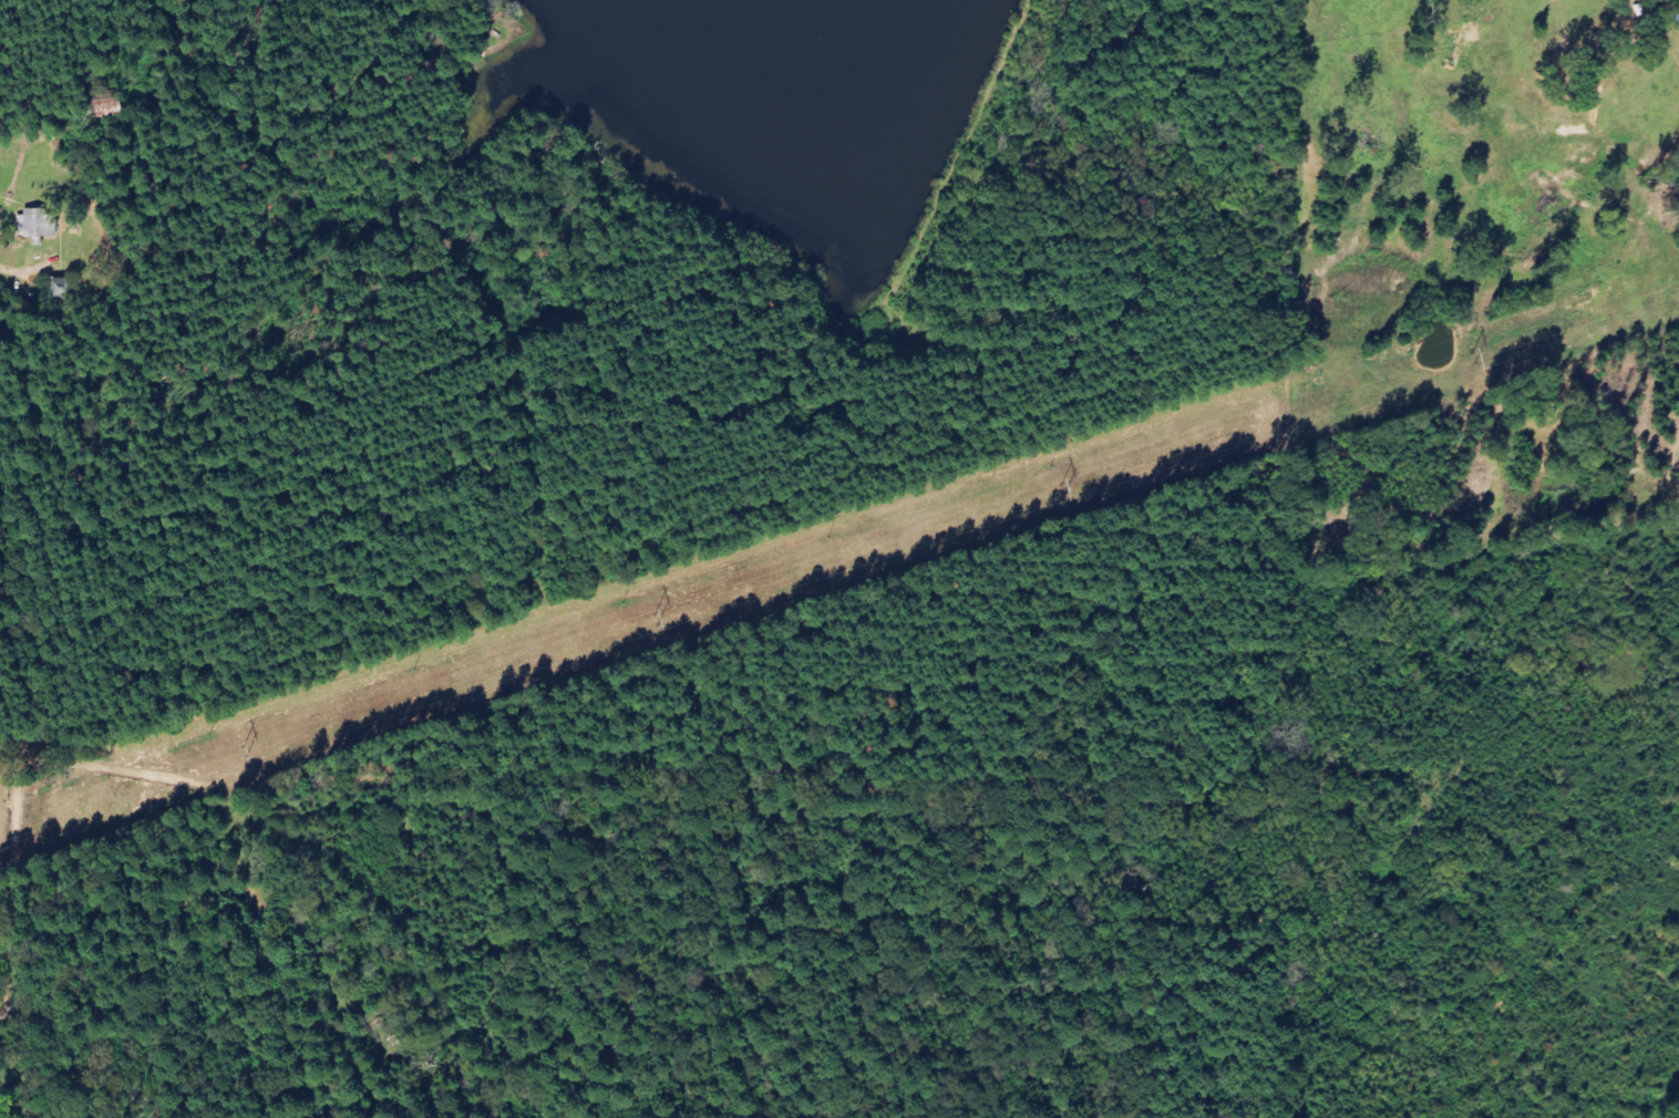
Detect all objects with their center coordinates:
building: (42, 227)
road: (16, 269)
road: (547, 815)

